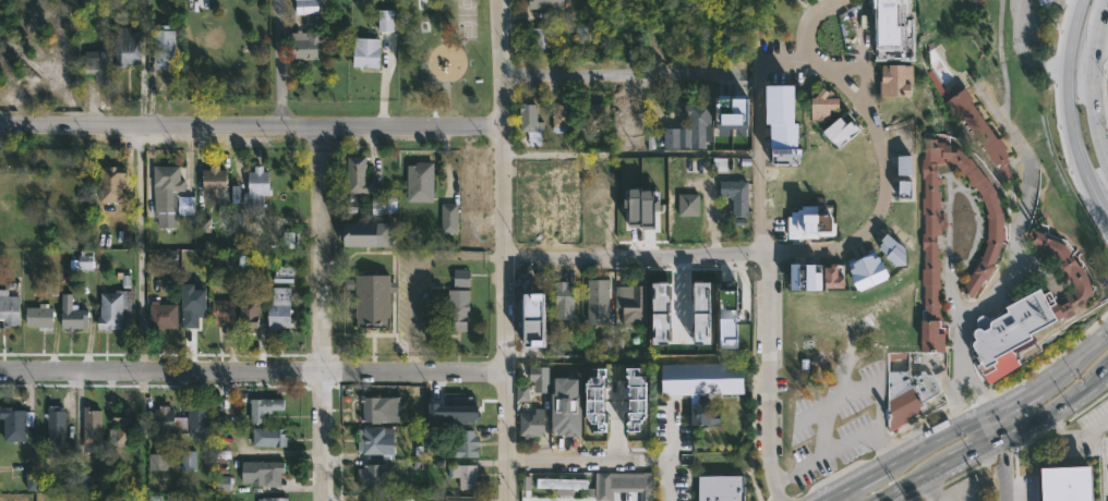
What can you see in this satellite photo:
building: (1040, 1)
building: (547, 4)
building: (308, 7)
road: (847, 12)
building: (385, 20)
building: (889, 26)
building: (581, 30)
building: (542, 39)
building: (128, 42)
building: (304, 46)
building: (164, 47)
road: (1020, 50)
building: (368, 56)
road: (791, 59)
road: (1100, 59)
building: (96, 63)
road: (278, 63)
road: (621, 73)
road: (860, 73)
building: (899, 78)
road: (845, 83)
road: (1094, 93)
road: (1061, 101)
building: (824, 105)
building: (735, 113)
building: (599, 115)
building: (530, 118)
building: (562, 118)
building: (629, 118)
building: (782, 123)
road: (251, 126)
building: (691, 129)
building: (841, 130)
building: (978, 130)
building: (641, 138)
road: (761, 157)
building: (903, 166)
building: (359, 175)
building: (475, 181)
building: (421, 182)
building: (112, 183)
road: (948, 185)
building: (257, 187)
building: (217, 188)
building: (170, 190)
building: (643, 194)
building: (737, 195)
building: (689, 205)
road: (1103, 206)
building: (237, 208)
building: (603, 212)
road: (875, 218)
building: (450, 219)
building: (369, 235)
building: (993, 245)
road: (505, 249)
building: (892, 250)
road: (460, 255)
road: (1014, 257)
building: (169, 258)
building: (198, 258)
road: (636, 258)
building: (866, 270)
building: (832, 277)
building: (804, 278)
building: (599, 293)
building: (665, 295)
building: (696, 297)
building: (373, 301)
building: (565, 301)
building: (460, 302)
building: (533, 303)
building: (633, 304)
building: (9, 308)
building: (249, 308)
building: (279, 308)
building: (116, 309)
building: (179, 311)
building: (224, 313)
road: (320, 314)
road: (413, 314)
building: (1025, 314)
building: (72, 315)
building: (40, 317)
building: (727, 319)
building: (530, 347)
road: (253, 375)
building: (539, 378)
building: (703, 378)
road: (767, 378)
building: (521, 393)
building: (908, 396)
building: (264, 407)
building: (463, 408)
building: (382, 410)
road: (1052, 413)
building: (703, 414)
building: (599, 415)
building: (637, 416)
building: (165, 419)
building: (194, 421)
building: (564, 421)
building: (13, 423)
building: (93, 423)
road: (966, 424)
building: (533, 425)
building: (121, 426)
building: (56, 428)
road: (984, 430)
building: (270, 436)
road: (1074, 438)
building: (377, 439)
building: (468, 443)
road: (971, 453)
road: (670, 456)
building: (189, 460)
road: (571, 460)
building: (156, 462)
road: (1001, 469)
building: (263, 472)
building: (466, 475)
building: (375, 476)
building: (77, 481)
road: (915, 482)
building: (222, 484)
building: (559, 484)
building: (624, 485)
building: (1064, 485)
building: (721, 488)
road: (931, 488)
road: (842, 494)
building: (431, 497)
building: (156, 498)
building: (275, 498)
building: (376, 498)
building: (461, 498)

